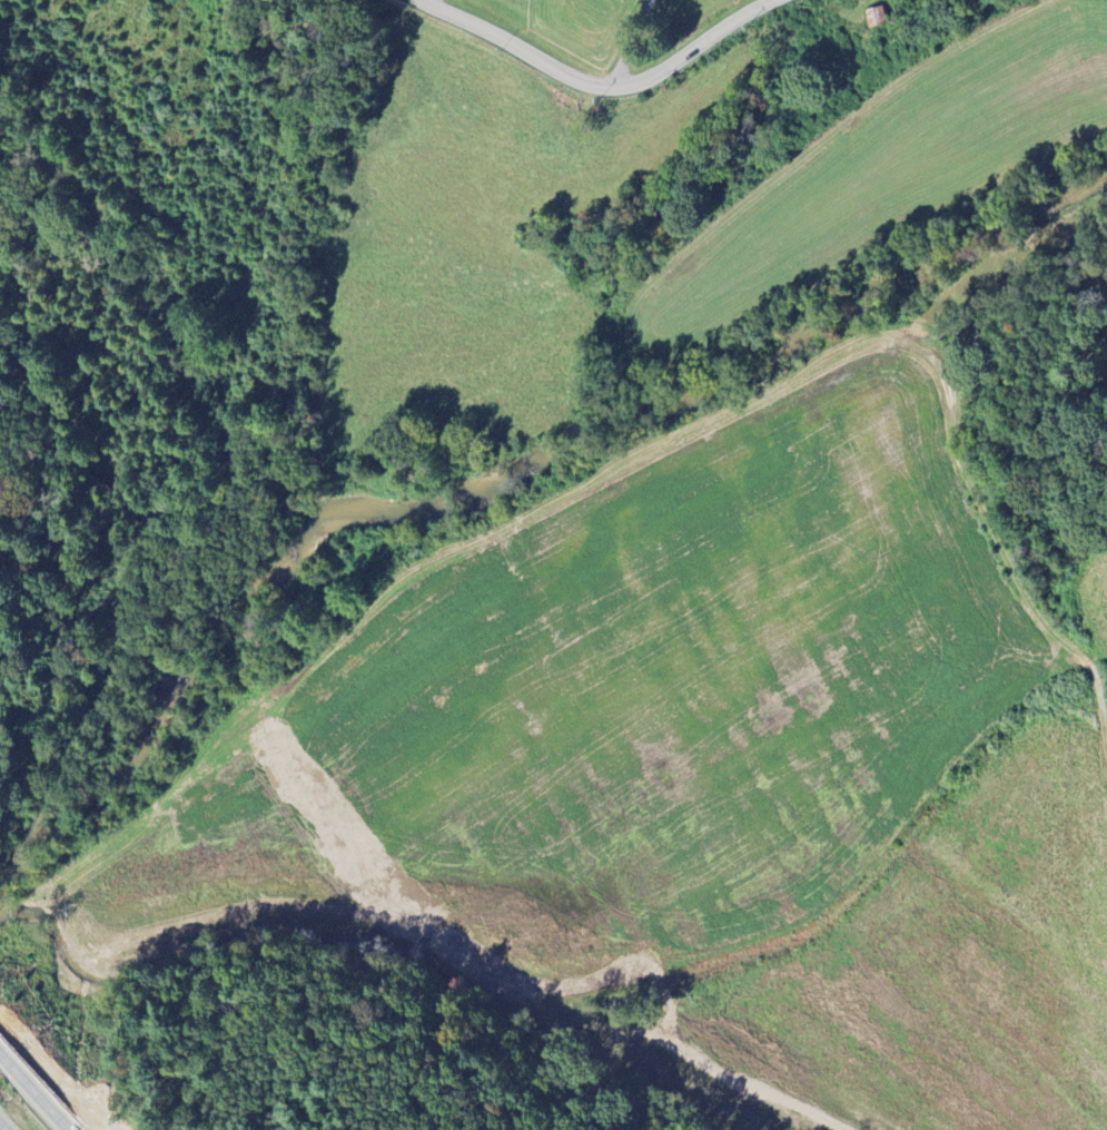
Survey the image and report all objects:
building: (874, 19)
road: (626, 46)
road: (599, 95)
road: (36, 1091)
road: (1, 1128)

